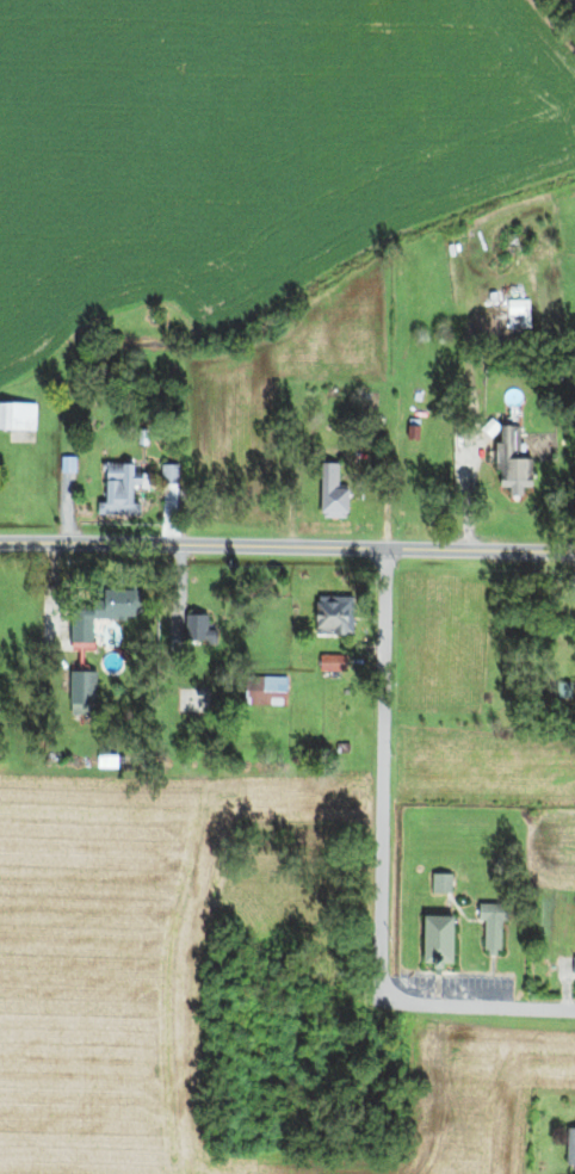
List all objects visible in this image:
road: (573, 1)
crop: (251, 143)
building: (518, 314)
building: (536, 319)
building: (367, 396)
building: (418, 396)
building: (18, 421)
road: (472, 425)
building: (491, 427)
building: (414, 434)
building: (144, 438)
road: (336, 451)
building: (514, 463)
building: (68, 464)
road: (389, 474)
building: (171, 475)
building: (122, 492)
building: (333, 493)
road: (68, 507)
road: (171, 514)
road: (193, 544)
road: (481, 550)
road: (323, 586)
road: (178, 592)
road: (51, 594)
building: (105, 614)
building: (335, 617)
building: (200, 630)
crop: (440, 645)
building: (175, 648)
building: (334, 663)
building: (267, 691)
building: (564, 691)
building: (84, 693)
building: (344, 749)
building: (109, 761)
crop: (483, 766)
road: (384, 771)
building: (443, 884)
building: (494, 927)
building: (439, 945)
building: (574, 971)
parking lot: (413, 984)
crop: (192, 987)
parking lot: (477, 988)
road: (567, 989)
road: (478, 1007)
building: (571, 1150)

